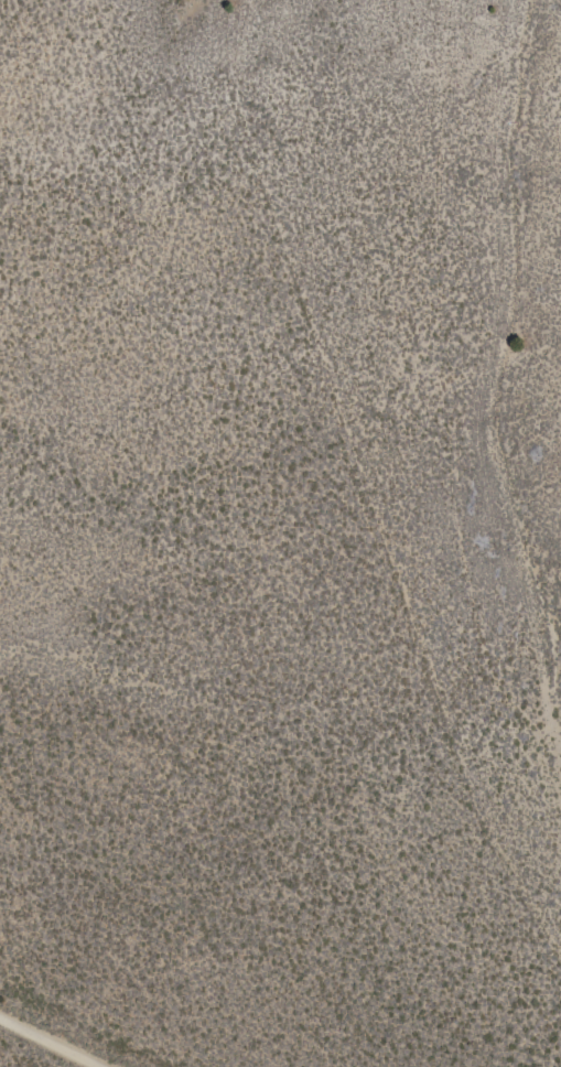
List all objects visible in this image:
road: (44, 1044)

